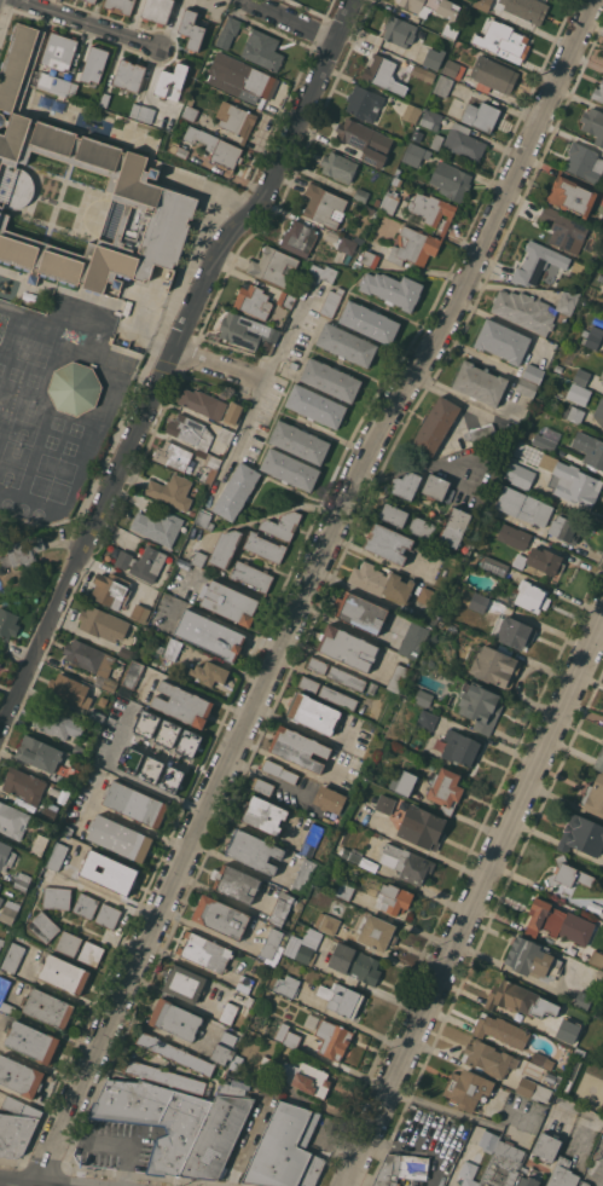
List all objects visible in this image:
building: (91, 1)
building: (482, 4)
building: (120, 5)
building: (418, 5)
building: (526, 8)
building: (157, 10)
road: (291, 18)
road: (87, 24)
building: (440, 24)
building: (191, 29)
building: (228, 31)
building: (400, 31)
building: (472, 37)
building: (512, 40)
building: (262, 50)
building: (59, 51)
building: (434, 58)
building: (93, 64)
building: (453, 69)
building: (382, 71)
building: (423, 73)
building: (129, 74)
building: (493, 75)
building: (247, 76)
building: (172, 79)
building: (54, 83)
building: (443, 86)
building: (428, 87)
building: (598, 92)
building: (104, 99)
building: (180, 99)
building: (412, 99)
building: (364, 103)
building: (135, 110)
building: (190, 110)
building: (146, 112)
building: (411, 112)
building: (480, 115)
building: (236, 118)
building: (429, 118)
building: (593, 123)
building: (417, 137)
building: (365, 140)
building: (437, 141)
building: (464, 141)
building: (216, 146)
building: (178, 149)
building: (416, 154)
building: (103, 158)
building: (198, 160)
building: (584, 162)
building: (338, 166)
building: (451, 180)
building: (360, 195)
building: (570, 195)
building: (388, 202)
building: (324, 206)
building: (433, 209)
building: (564, 230)
building: (298, 238)
building: (413, 247)
building: (602, 249)
building: (344, 253)
building: (370, 258)
building: (538, 264)
building: (274, 266)
building: (321, 274)
building: (393, 289)
building: (286, 300)
building: (254, 301)
building: (331, 301)
building: (567, 301)
building: (602, 307)
building: (524, 311)
building: (370, 322)
building: (245, 330)
building: (593, 337)
building: (503, 341)
building: (346, 345)
road: (164, 357)
building: (294, 365)
building: (558, 368)
road: (215, 369)
building: (533, 372)
building: (602, 375)
building: (581, 376)
road: (265, 380)
building: (330, 380)
building: (602, 381)
building: (480, 383)
building: (527, 387)
building: (75, 388)
building: (578, 392)
building: (203, 403)
building: (315, 405)
building: (233, 412)
building: (572, 412)
building: (598, 412)
building: (435, 426)
building: (190, 430)
building: (225, 434)
building: (480, 434)
building: (539, 440)
building: (300, 441)
building: (590, 449)
building: (174, 456)
building: (545, 461)
building: (209, 465)
building: (289, 469)
building: (524, 475)
building: (575, 484)
building: (406, 485)
building: (435, 487)
building: (172, 491)
building: (237, 491)
building: (521, 504)
building: (495, 513)
building: (393, 514)
building: (204, 520)
building: (282, 525)
building: (158, 526)
building: (454, 526)
building: (422, 527)
building: (567, 527)
building: (514, 536)
building: (388, 543)
building: (265, 546)
building: (225, 548)
building: (24, 549)
building: (199, 559)
building: (545, 561)
building: (141, 562)
building: (494, 565)
building: (251, 574)
building: (538, 575)
building: (381, 582)
road: (305, 586)
building: (110, 589)
building: (469, 594)
building: (427, 596)
building: (532, 596)
building: (228, 601)
building: (479, 602)
building: (139, 612)
building: (360, 612)
building: (7, 623)
building: (106, 624)
building: (512, 631)
building: (210, 634)
building: (412, 640)
building: (347, 647)
building: (161, 648)
building: (173, 648)
building: (126, 652)
building: (0, 656)
building: (88, 656)
building: (0, 663)
building: (317, 664)
building: (495, 666)
building: (209, 672)
building: (133, 673)
building: (398, 677)
building: (347, 678)
building: (109, 684)
building: (308, 684)
building: (372, 688)
building: (70, 689)
building: (337, 698)
building: (423, 698)
building: (182, 704)
building: (479, 706)
building: (313, 713)
building: (95, 718)
building: (427, 719)
building: (53, 722)
building: (146, 723)
building: (168, 731)
building: (189, 741)
building: (460, 747)
building: (298, 748)
building: (79, 750)
building: (39, 753)
building: (129, 760)
building: (599, 760)
building: (151, 770)
building: (278, 770)
building: (172, 780)
building: (68, 781)
building: (404, 782)
building: (24, 785)
building: (262, 786)
building: (445, 789)
building: (593, 797)
building: (329, 798)
building: (385, 803)
building: (135, 804)
building: (50, 811)
building: (263, 814)
building: (12, 820)
building: (422, 827)
building: (68, 829)
building: (581, 835)
building: (309, 837)
building: (120, 838)
building: (40, 844)
building: (254, 851)
building: (350, 855)
building: (6, 856)
building: (57, 856)
building: (407, 862)
building: (46, 873)
building: (109, 873)
building: (567, 874)
building: (303, 877)
building: (23, 880)
building: (367, 880)
building: (0, 883)
building: (234, 883)
building: (344, 891)
building: (57, 897)
building: (0, 898)
building: (393, 898)
road: (231, 899)
road: (475, 902)
building: (85, 904)
building: (280, 908)
building: (10, 912)
building: (108, 915)
building: (602, 915)
building: (221, 916)
building: (326, 922)
building: (557, 922)
building: (44, 926)
building: (377, 933)
road: (216, 935)
building: (1, 942)
building: (69, 943)
building: (274, 944)
building: (300, 949)
building: (204, 951)
building: (91, 953)
building: (12, 956)
building: (532, 959)
building: (596, 959)
building: (354, 965)
building: (64, 973)
building: (599, 973)
building: (483, 976)
building: (248, 980)
building: (182, 984)
building: (286, 985)
building: (2, 990)
building: (271, 996)
building: (341, 999)
building: (520, 999)
building: (582, 1000)
building: (48, 1007)
building: (228, 1013)
building: (175, 1019)
building: (500, 1030)
building: (567, 1030)
building: (288, 1035)
building: (332, 1039)
building: (33, 1041)
building: (221, 1047)
building: (249, 1051)
building: (579, 1052)
building: (175, 1053)
building: (488, 1058)
building: (540, 1059)
building: (237, 1061)
building: (267, 1064)
building: (19, 1076)
building: (167, 1076)
building: (307, 1077)
building: (552, 1077)
building: (468, 1088)
building: (533, 1089)
road: (34, 1101)
building: (156, 1117)
building: (17, 1126)
building: (218, 1133)
building: (487, 1139)
road: (111, 1144)
building: (546, 1145)
building: (286, 1149)
building: (503, 1164)
building: (401, 1168)
building: (469, 1169)
building: (563, 1174)
building: (528, 1178)
road: (23, 1182)
building: (584, 1184)

